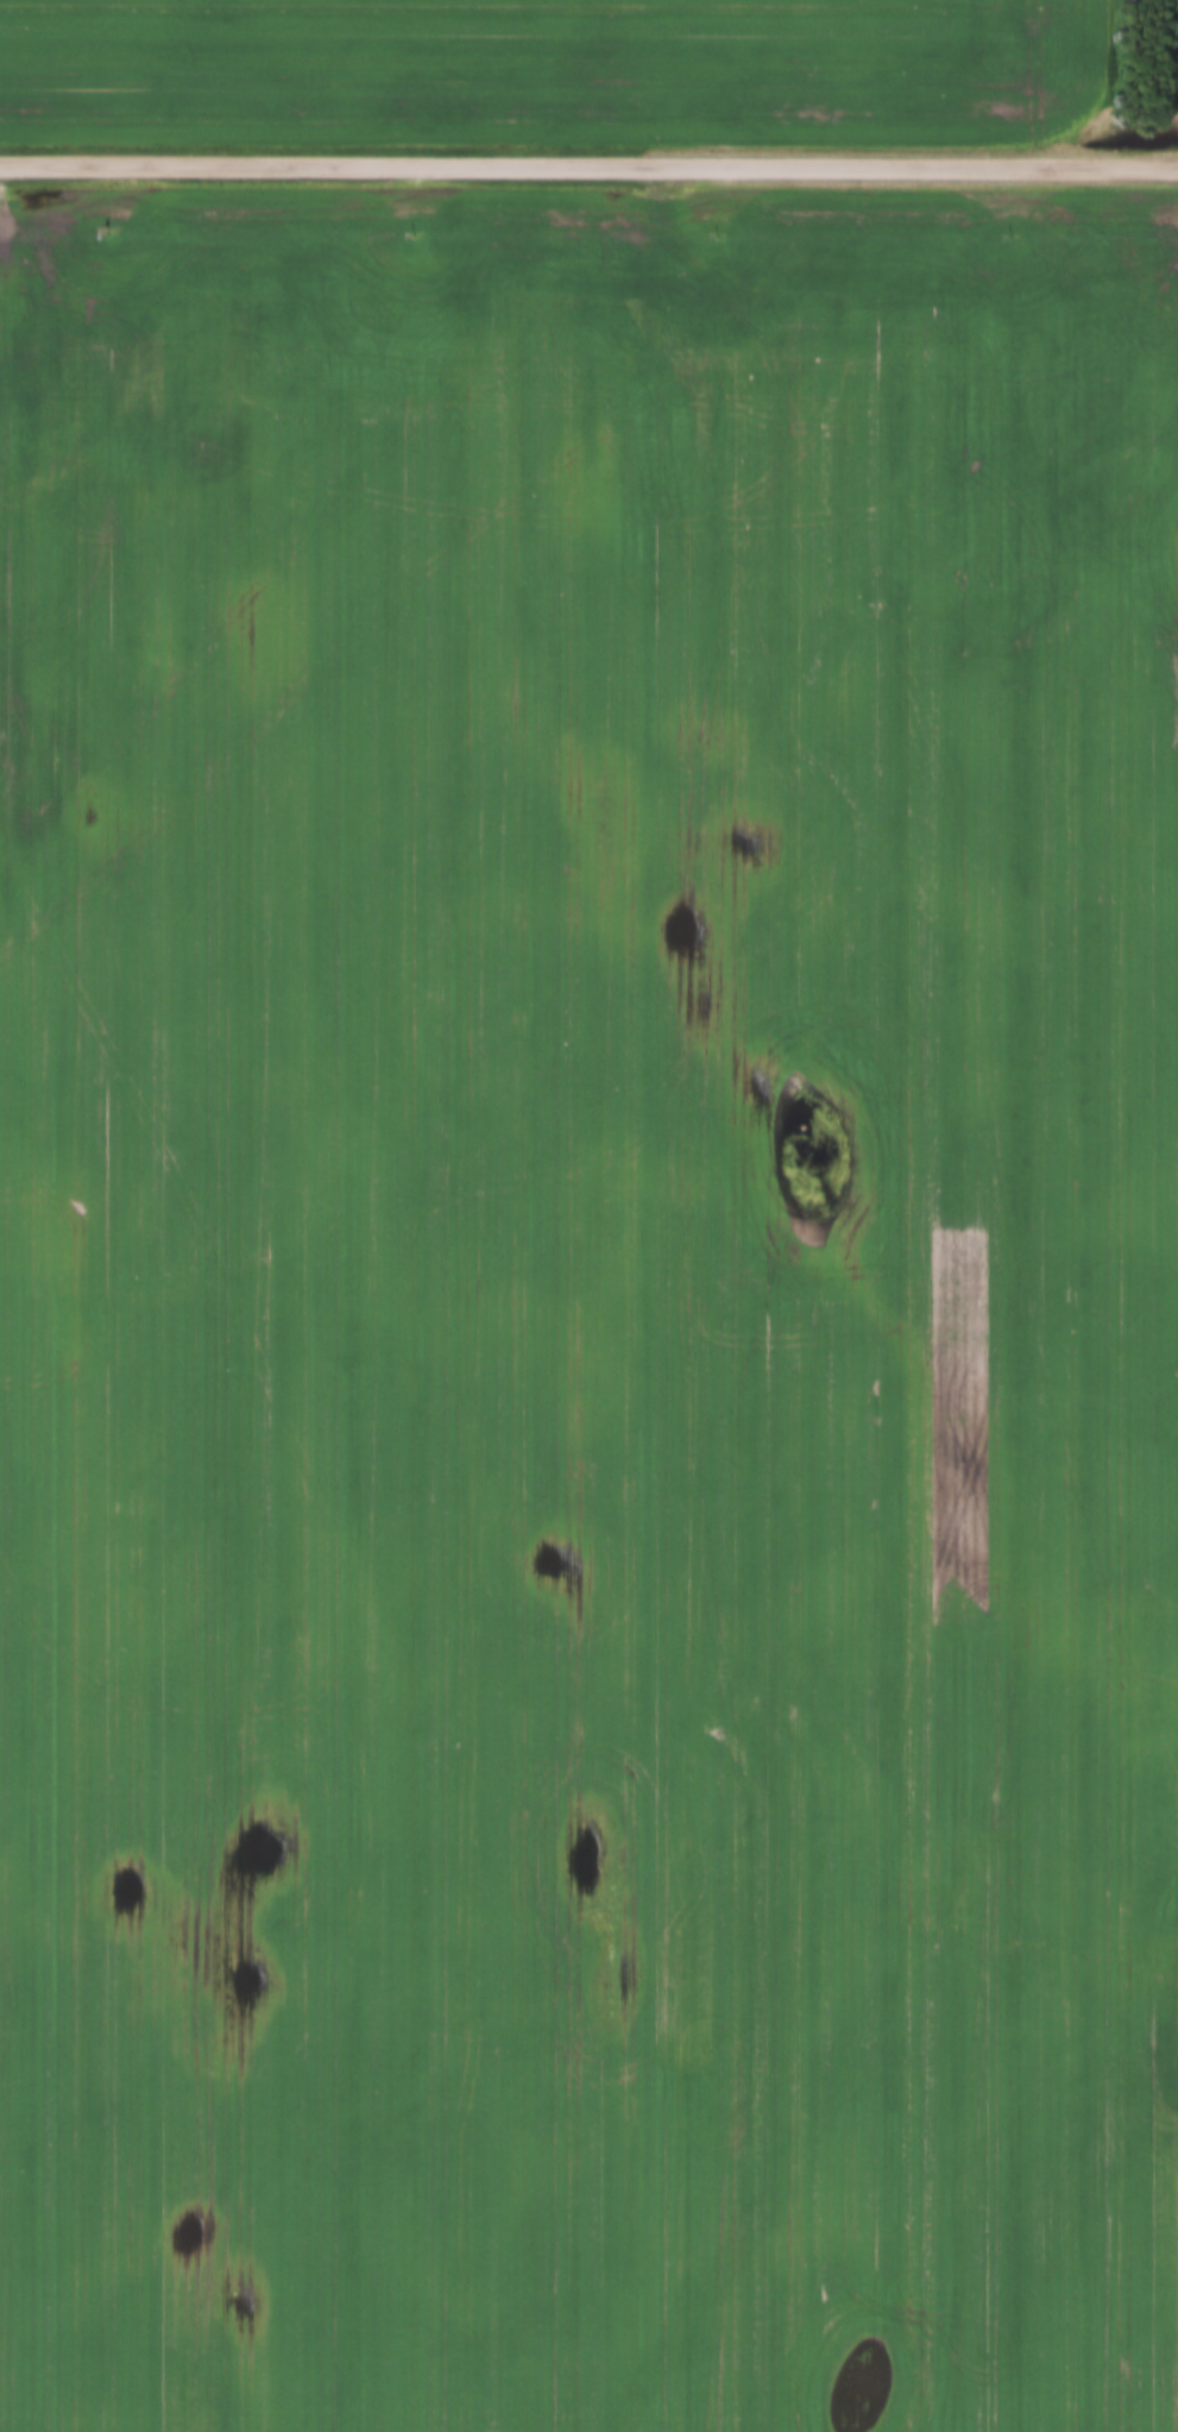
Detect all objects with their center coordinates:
road: (588, 157)
building: (1052, 382)
building: (984, 475)
building: (953, 477)
building: (1020, 479)

